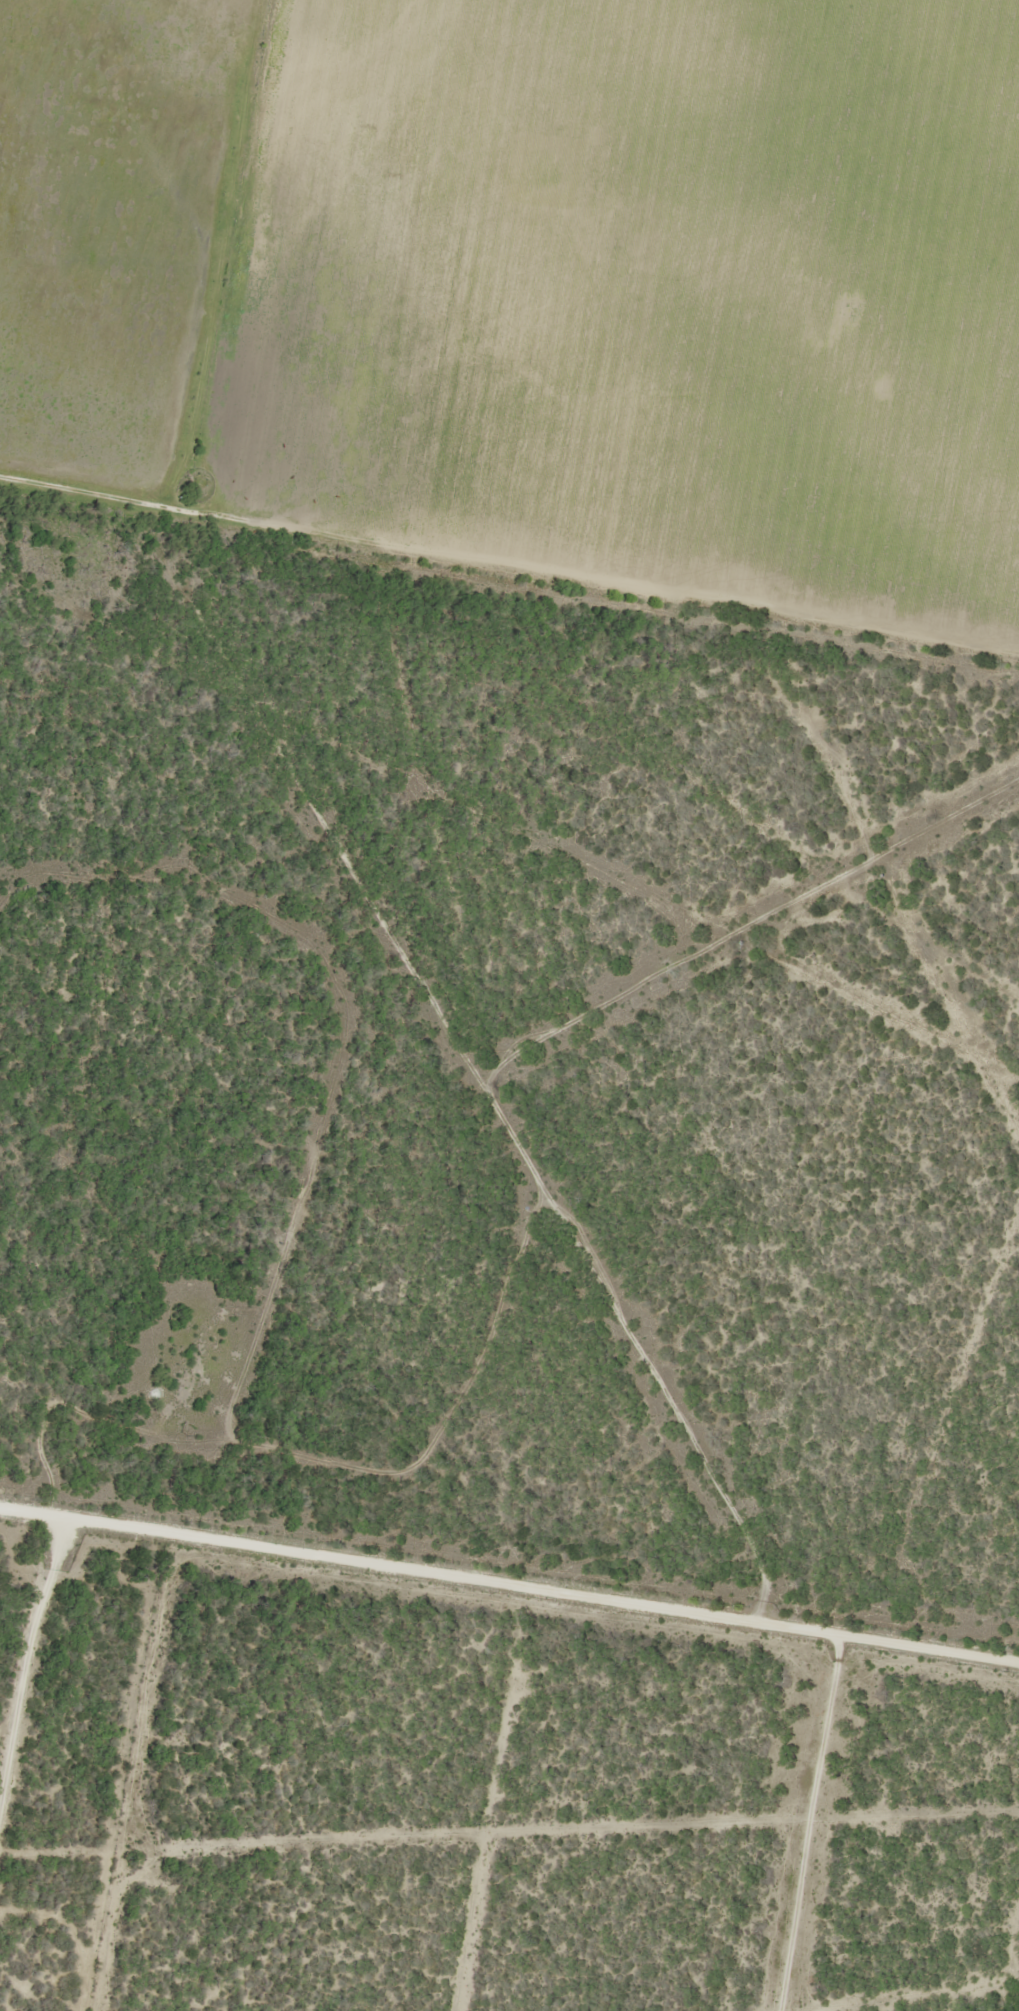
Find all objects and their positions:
building: (907, 74)
building: (585, 160)
road: (210, 268)
building: (722, 315)
building: (877, 335)
building: (581, 420)
building: (714, 430)
building: (700, 463)
building: (729, 498)
road: (352, 925)
road: (734, 938)
road: (506, 1602)
road: (26, 1691)

